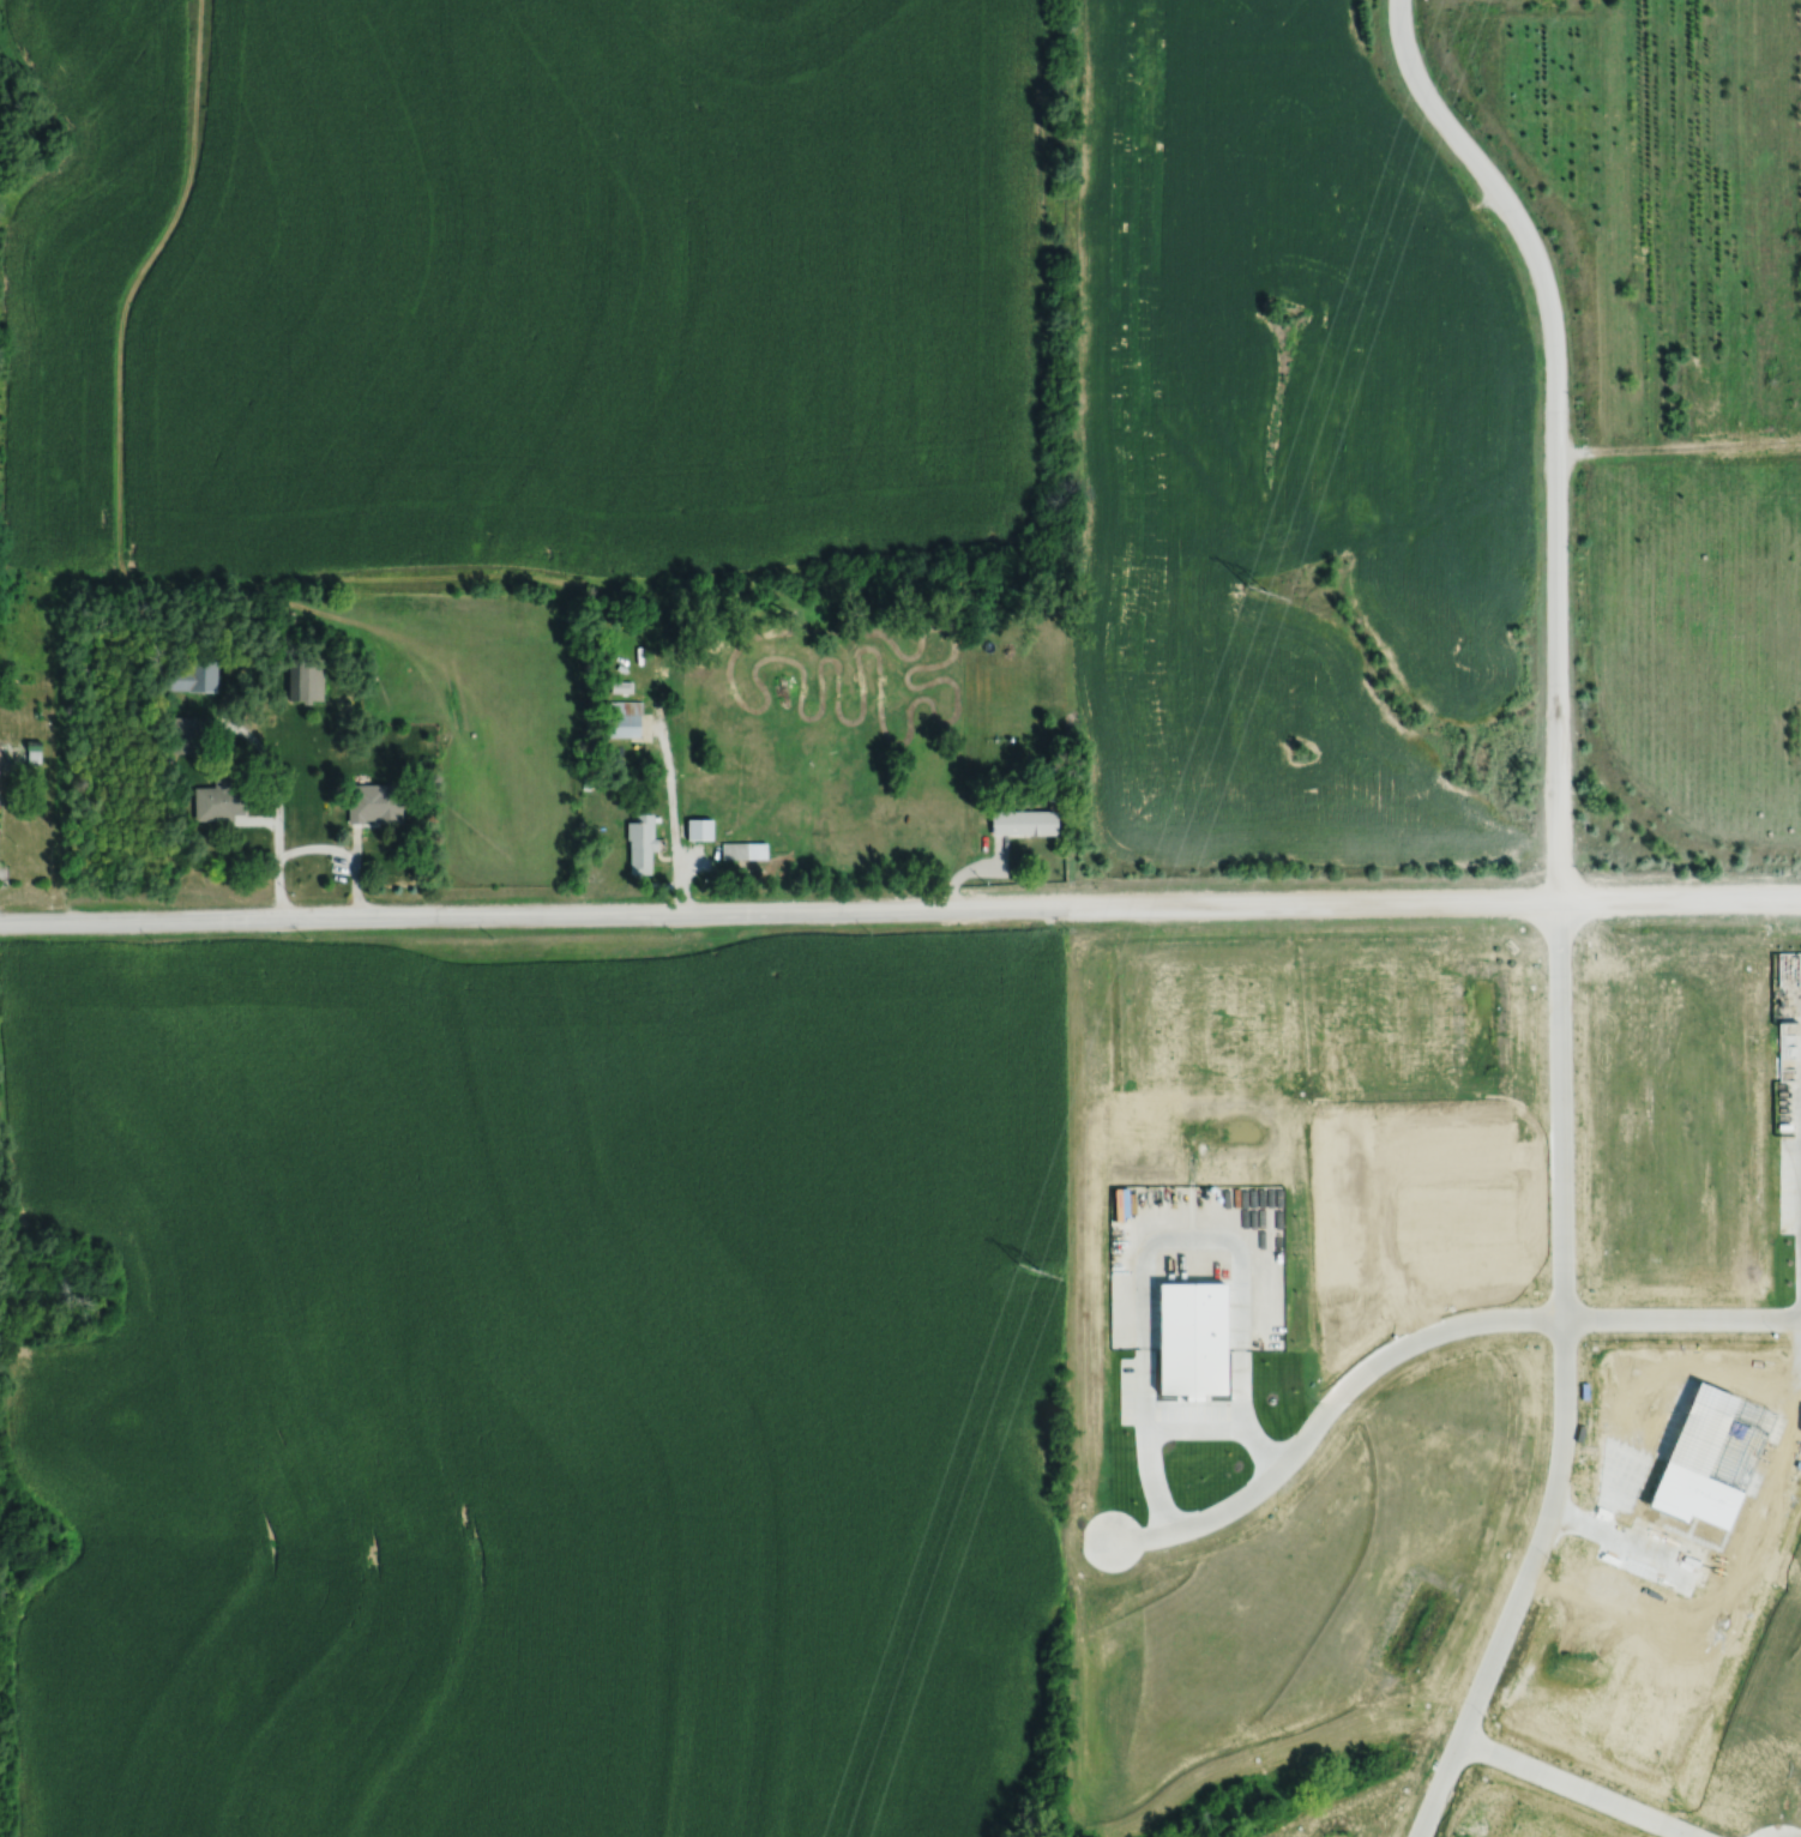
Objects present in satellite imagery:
road: (1554, 428)
power tower: (1263, 586)
building: (321, 596)
building: (187, 675)
building: (303, 679)
building: (621, 718)
building: (182, 735)
building: (0, 754)
road: (14, 763)
road: (276, 799)
building: (217, 801)
building: (373, 809)
road: (670, 818)
building: (1023, 823)
building: (640, 843)
building: (743, 850)
road: (900, 915)
power tower: (1032, 1275)
road: (1680, 1313)
road: (1561, 1381)
road: (1323, 1410)
road: (1170, 1429)
road: (1580, 1785)

